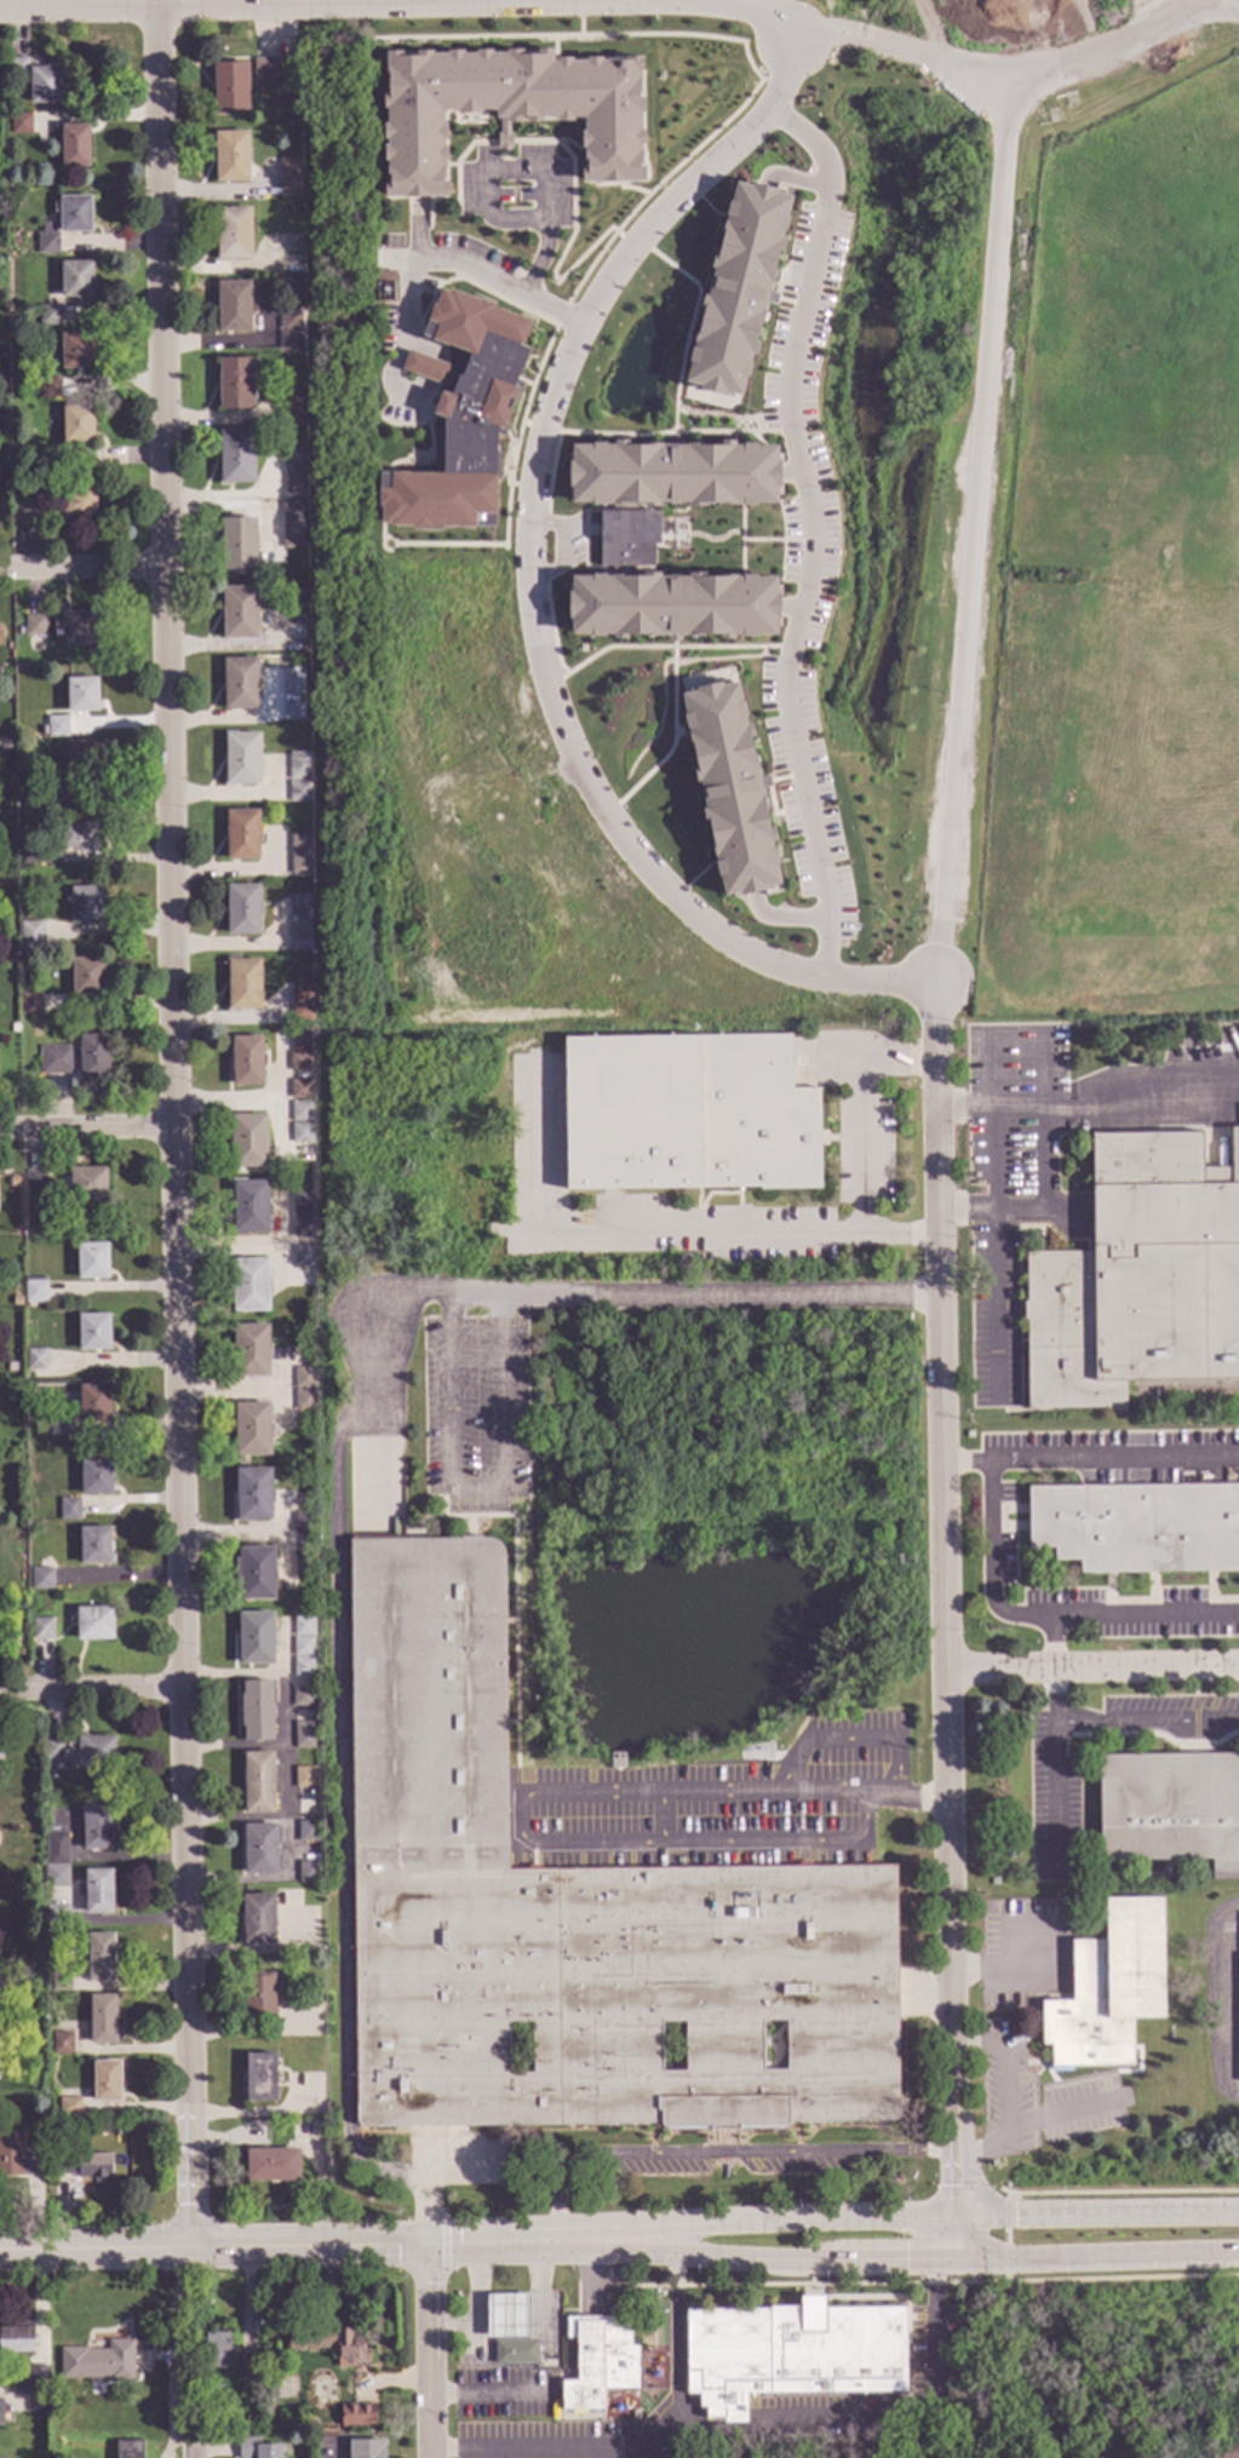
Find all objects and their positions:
road: (549, 0)
road: (452, 1)
road: (494, 1)
road: (398, 4)
road: (1181, 7)
road: (931, 28)
building: (17, 69)
building: (275, 69)
road: (1011, 73)
building: (45, 86)
building: (230, 90)
building: (1, 103)
building: (506, 108)
building: (19, 124)
building: (74, 145)
building: (230, 157)
building: (288, 168)
road: (526, 170)
building: (288, 189)
building: (74, 214)
building: (234, 235)
building: (47, 243)
road: (440, 260)
building: (76, 281)
building: (385, 286)
building: (738, 287)
building: (234, 308)
building: (48, 316)
building: (289, 318)
building: (289, 341)
building: (75, 351)
building: (236, 384)
building: (47, 389)
building: (291, 407)
building: (463, 418)
building: (78, 425)
building: (41, 459)
building: (236, 459)
building: (294, 466)
building: (671, 473)
road: (976, 492)
building: (15, 495)
building: (76, 505)
building: (27, 510)
building: (292, 526)
road: (810, 530)
building: (627, 540)
building: (237, 545)
road: (85, 569)
road: (530, 584)
building: (672, 605)
building: (239, 614)
building: (35, 626)
building: (78, 628)
building: (303, 647)
building: (240, 685)
building: (293, 694)
building: (81, 696)
building: (57, 728)
building: (41, 734)
building: (80, 760)
building: (242, 760)
building: (298, 768)
building: (728, 780)
building: (298, 792)
building: (38, 797)
building: (56, 798)
building: (78, 837)
building: (241, 837)
building: (298, 849)
building: (34, 854)
building: (298, 903)
building: (85, 906)
building: (242, 912)
building: (299, 934)
building: (31, 937)
building: (87, 977)
building: (242, 986)
building: (300, 1001)
building: (30, 1004)
building: (300, 1040)
building: (92, 1057)
building: (55, 1061)
building: (246, 1062)
building: (298, 1063)
building: (299, 1090)
building: (688, 1113)
building: (299, 1114)
road: (172, 1122)
road: (86, 1127)
building: (299, 1133)
building: (247, 1142)
road: (862, 1149)
road: (993, 1160)
building: (35, 1182)
building: (85, 1184)
building: (249, 1207)
building: (303, 1216)
road: (620, 1234)
building: (303, 1257)
building: (91, 1262)
building: (1138, 1279)
building: (248, 1286)
building: (34, 1291)
road: (475, 1297)
road: (721, 1297)
building: (92, 1333)
building: (248, 1351)
building: (35, 1360)
building: (302, 1378)
railway: (1183, 1389)
building: (303, 1400)
building: (93, 1405)
building: (56, 1425)
building: (252, 1430)
road: (1089, 1459)
building: (96, 1478)
road: (474, 1491)
building: (252, 1495)
building: (68, 1510)
building: (302, 1523)
building: (1137, 1528)
building: (94, 1546)
building: (303, 1564)
road: (942, 1564)
road: (990, 1564)
building: (253, 1574)
building: (41, 1579)
road: (1120, 1616)
building: (94, 1625)
building: (302, 1627)
building: (41, 1630)
building: (254, 1639)
building: (1, 1642)
building: (302, 1647)
building: (302, 1667)
road: (1092, 1667)
road: (92, 1692)
building: (302, 1699)
building: (256, 1712)
road: (1147, 1722)
building: (303, 1736)
road: (849, 1740)
building: (0, 1747)
building: (79, 1753)
building: (615, 1762)
road: (1054, 1765)
road: (342, 1767)
building: (304, 1778)
building: (257, 1784)
road: (733, 1796)
building: (1170, 1810)
building: (34, 1814)
building: (96, 1830)
building: (306, 1833)
road: (692, 1843)
building: (56, 1850)
building: (259, 1850)
building: (308, 1873)
building: (97, 1891)
building: (570, 1916)
building: (57, 1918)
building: (257, 1920)
building: (99, 1958)
building: (61, 1982)
building: (1107, 1989)
road: (929, 1992)
building: (258, 1998)
road: (1223, 1999)
building: (101, 2020)
building: (61, 2044)
building: (259, 2079)
building: (105, 2083)
road: (1006, 2091)
building: (68, 2107)
road: (1065, 2113)
building: (155, 2124)
building: (286, 2125)
road: (719, 2153)
building: (17, 2158)
building: (271, 2166)
building: (81, 2167)
road: (1118, 2192)
road: (1123, 2217)
road: (977, 2219)
traffic signals: (950, 2221)
road: (811, 2227)
road: (946, 2238)
road: (1006, 2238)
road: (632, 2241)
road: (507, 2244)
traffic signals: (193, 2245)
road: (213, 2245)
traffic signals: (426, 2246)
road: (808, 2251)
traffic signals: (942, 2256)
road: (1090, 2257)
road: (589, 2268)
road: (1123, 2279)
road: (797, 2285)
road: (534, 2296)
road: (478, 2305)
building: (506, 2316)
road: (178, 2338)
building: (328, 2343)
building: (16, 2344)
building: (516, 2350)
road: (429, 2351)
building: (790, 2354)
building: (212, 2355)
building: (598, 2361)
building: (97, 2366)
building: (246, 2372)
building: (36, 2379)
park: (1068, 2384)
road: (492, 2396)
building: (36, 2404)
building: (0, 2412)
building: (357, 2417)
road: (790, 2419)
road: (193, 2437)
building: (367, 2448)
building: (254, 2451)
building: (127, 2452)
road: (557, 2456)

